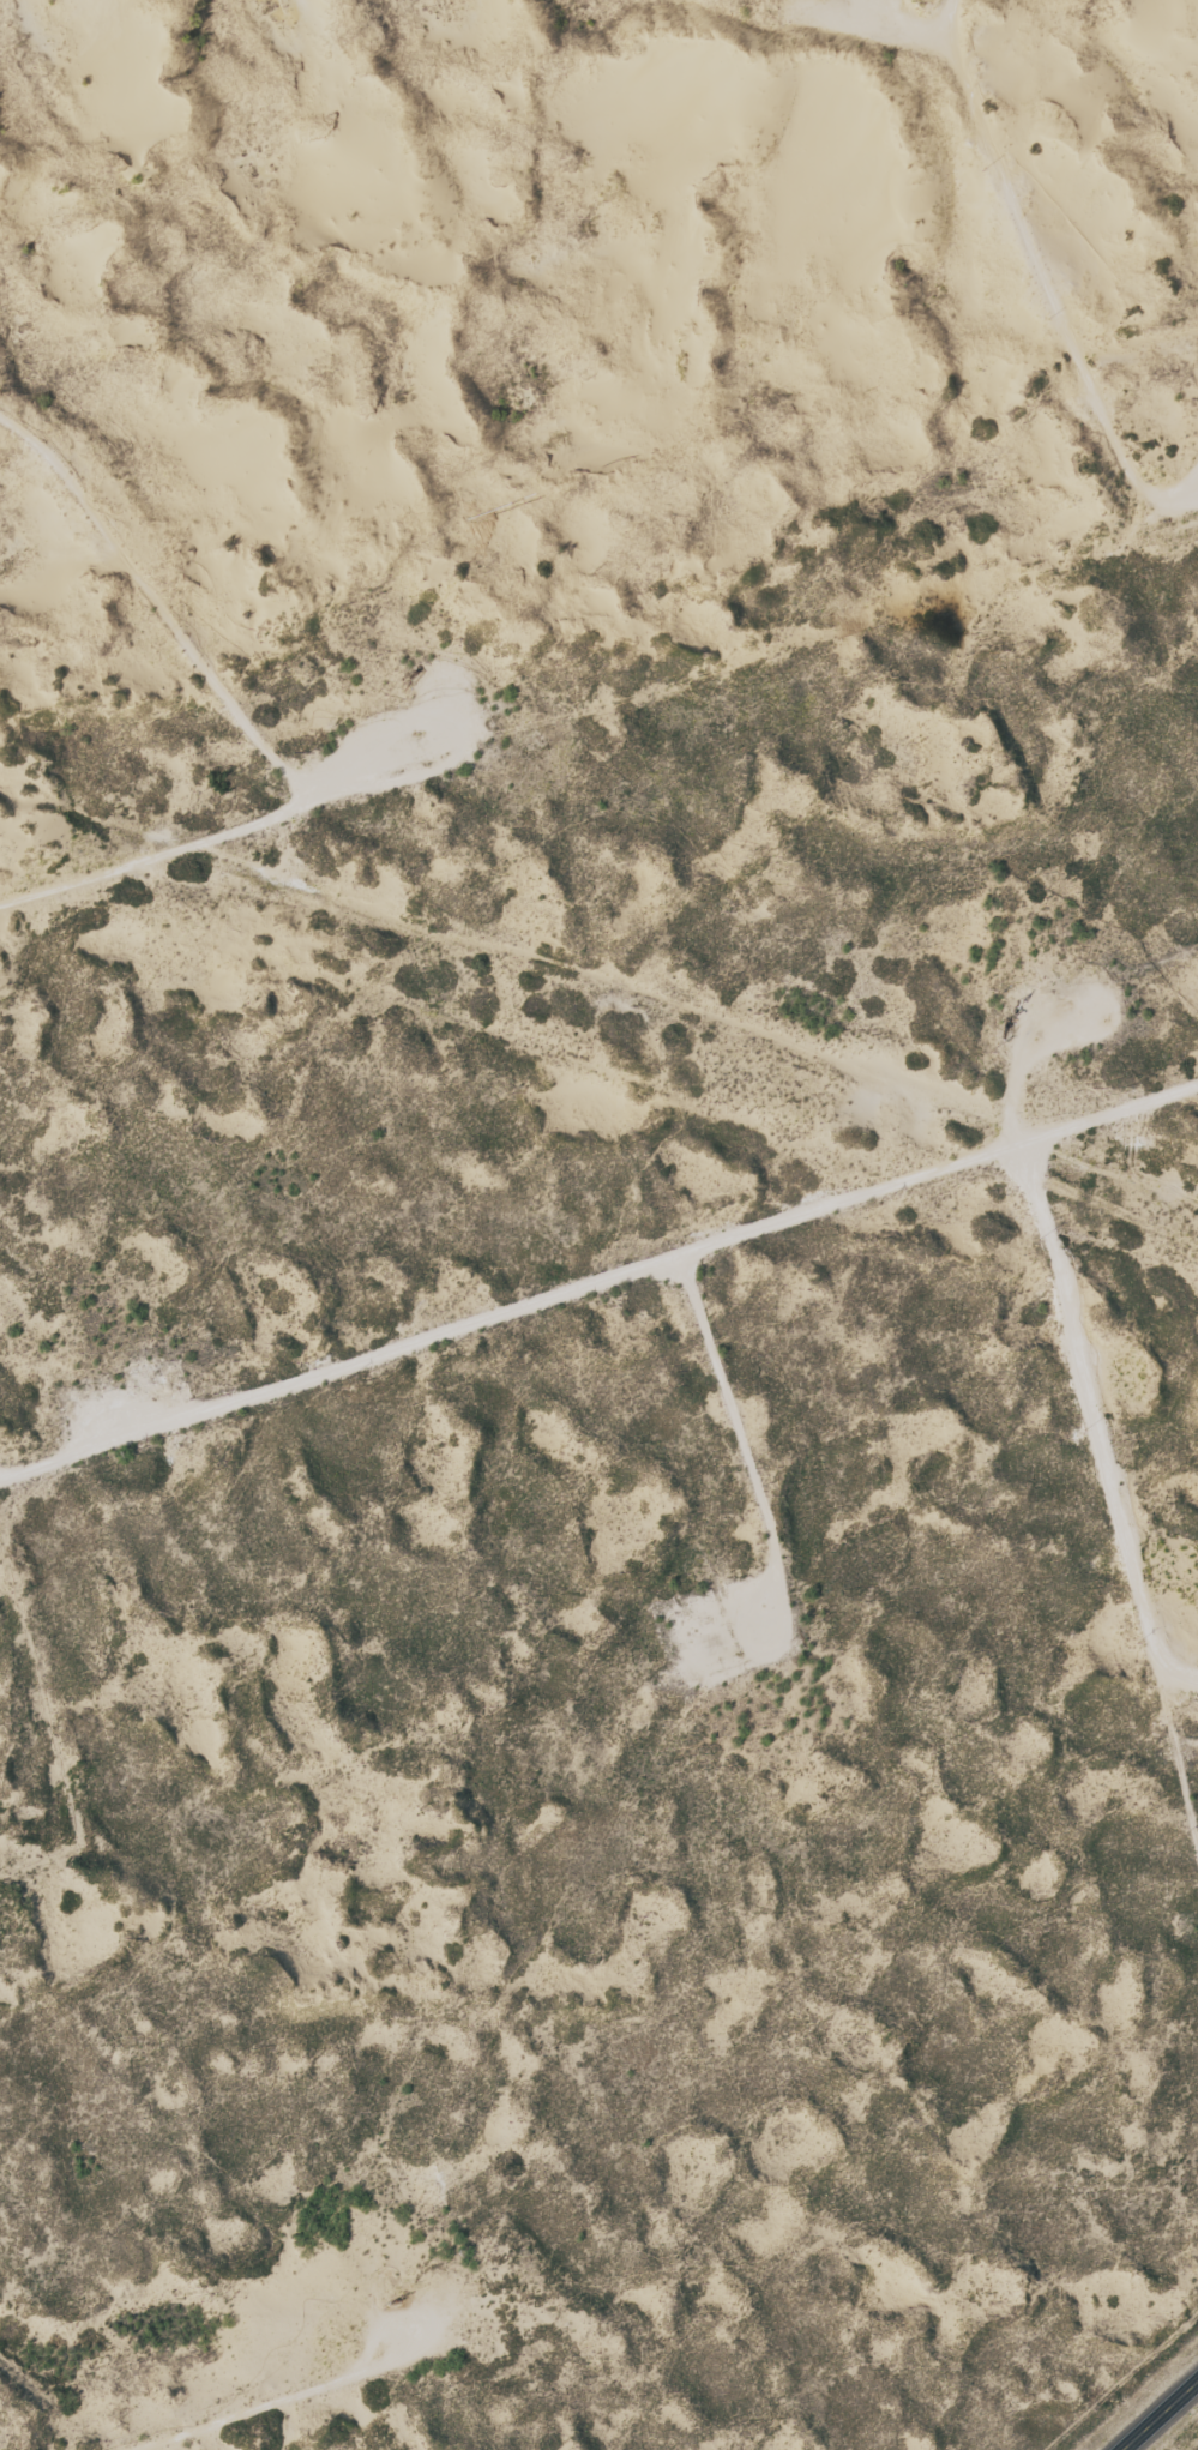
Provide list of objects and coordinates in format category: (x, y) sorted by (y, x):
road: (598, 1288)
road: (245, 2414)
road: (1162, 2416)

